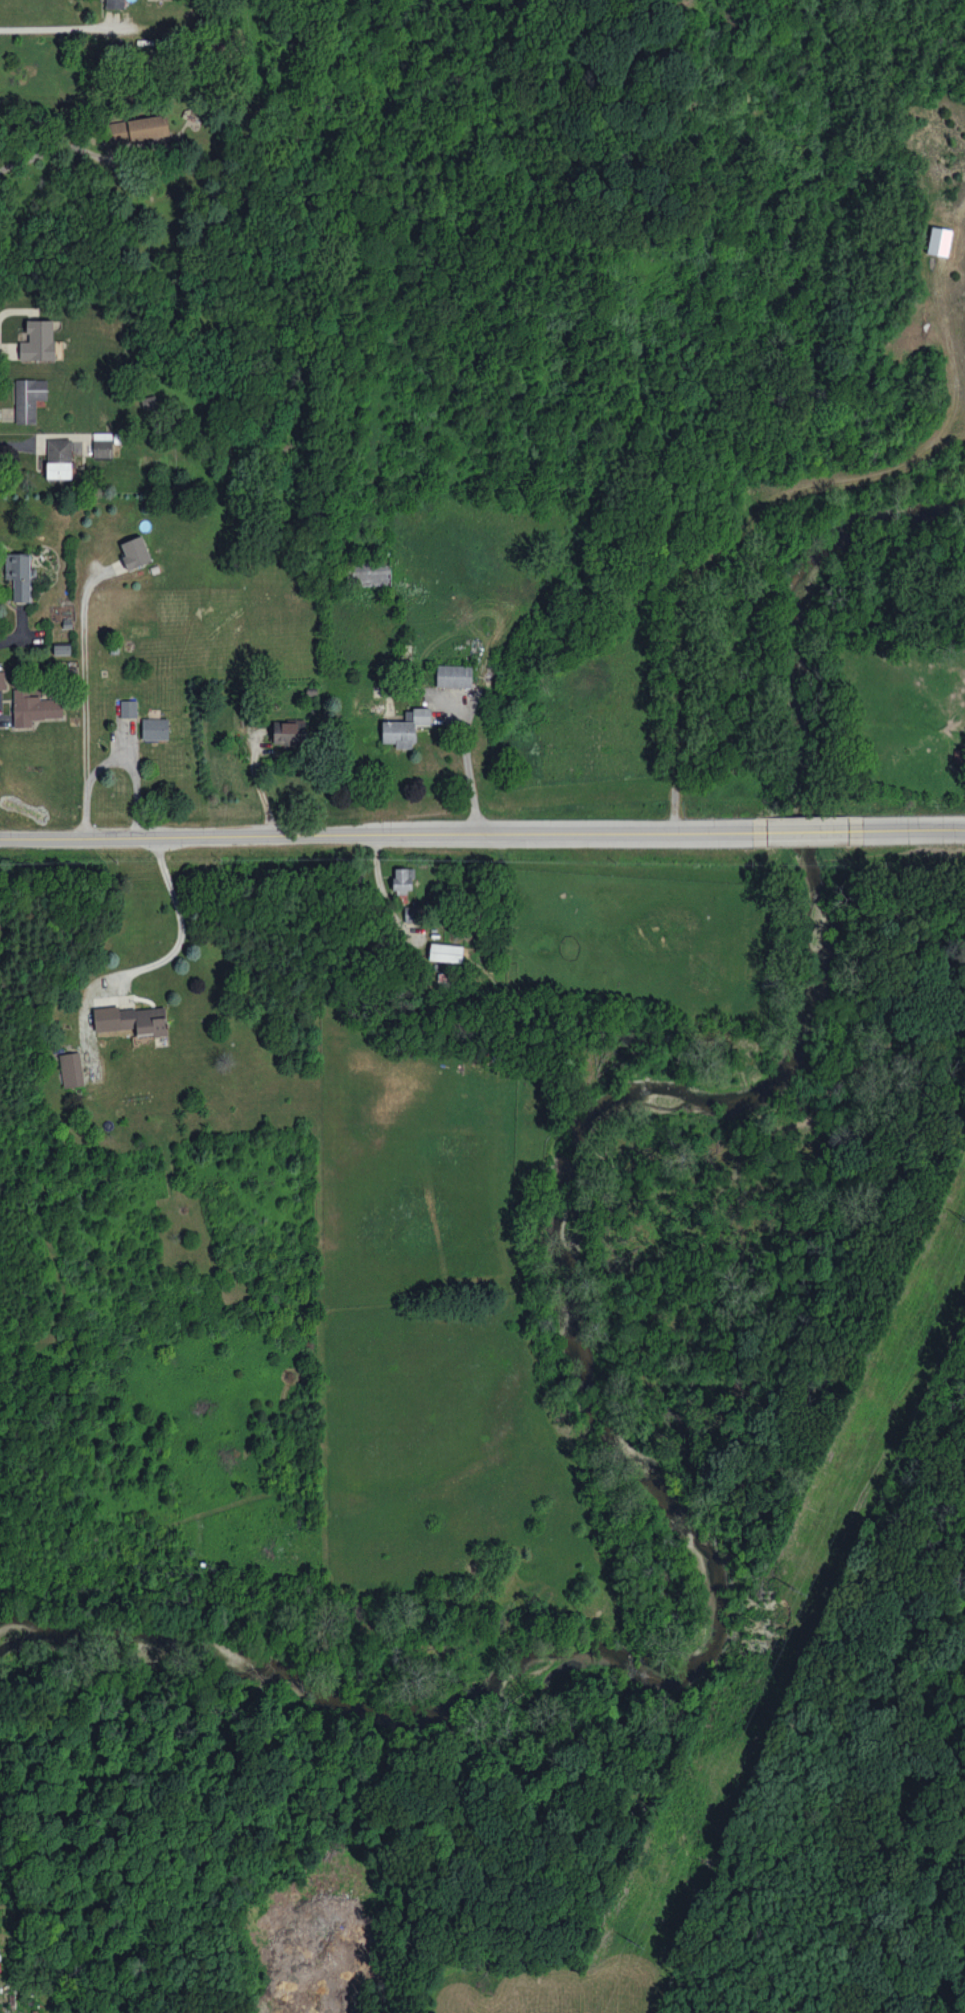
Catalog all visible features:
building: (114, 4)
road: (58, 25)
building: (138, 128)
road: (140, 148)
building: (939, 241)
building: (38, 340)
building: (28, 398)
building: (102, 444)
building: (59, 458)
building: (135, 552)
building: (371, 572)
building: (18, 574)
building: (62, 648)
building: (454, 675)
building: (2, 680)
road: (79, 698)
building: (34, 707)
building: (128, 708)
building: (406, 727)
building: (155, 728)
building: (287, 732)
road: (468, 767)
road: (129, 770)
road: (911, 832)
road: (813, 834)
road: (383, 835)
building: (403, 879)
building: (411, 913)
road: (182, 928)
building: (445, 952)
building: (131, 1019)
building: (71, 1069)
river: (567, 1321)

